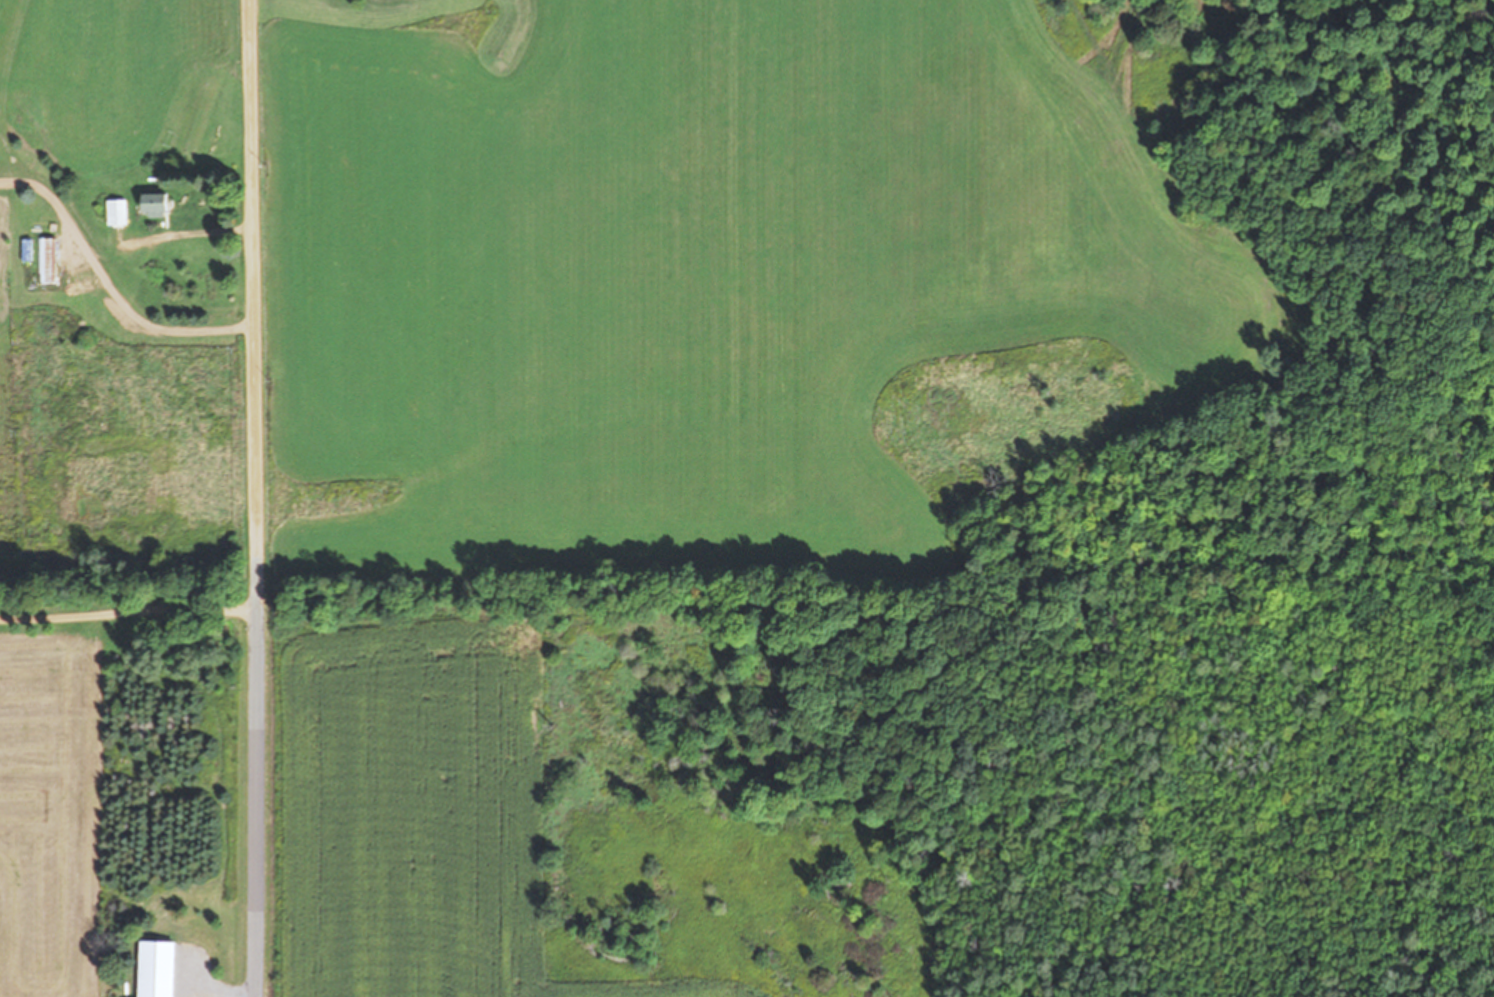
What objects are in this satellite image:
building: (160, 203)
building: (119, 211)
building: (46, 259)
road: (254, 297)
crop: (651, 417)
road: (256, 796)
building: (160, 969)

